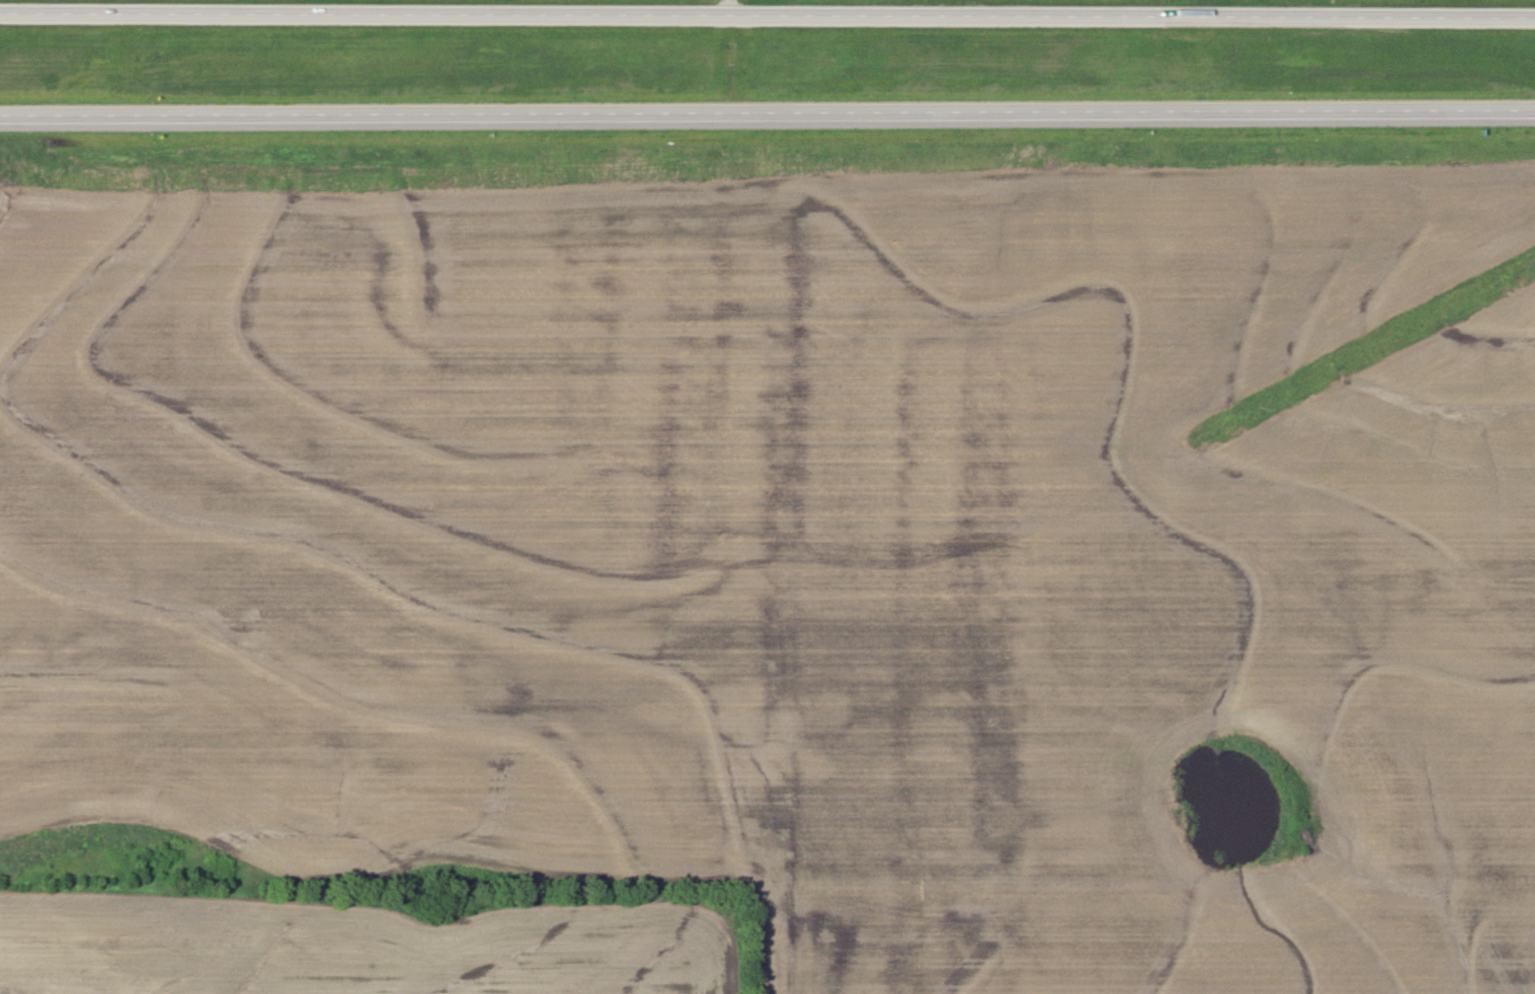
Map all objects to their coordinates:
road: (767, 17)
road: (767, 113)

